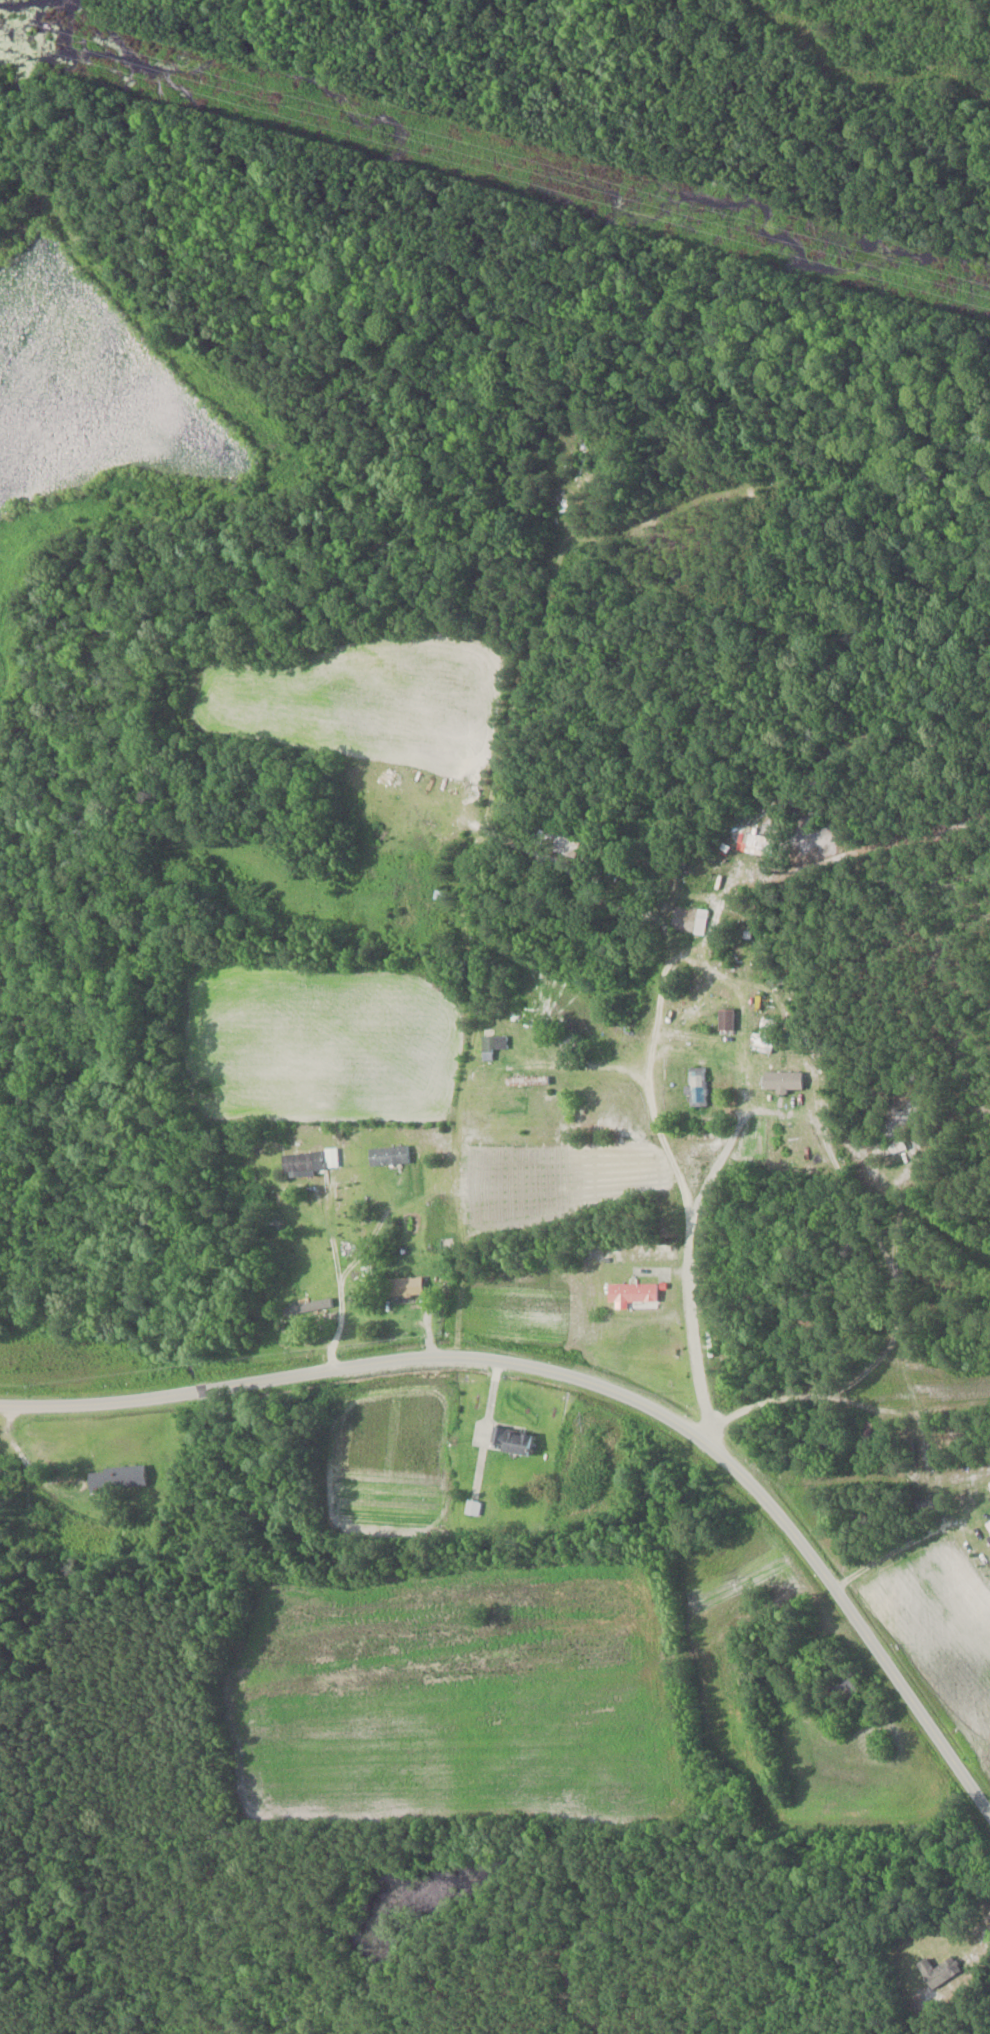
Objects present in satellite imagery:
power tower: (270, 97)
power tower: (695, 211)
building: (561, 844)
building: (439, 893)
building: (701, 921)
building: (726, 1019)
building: (760, 1039)
building: (494, 1045)
building: (528, 1080)
building: (783, 1081)
building: (697, 1086)
building: (890, 1150)
building: (390, 1155)
building: (311, 1161)
road: (724, 1260)
road: (339, 1275)
building: (407, 1286)
building: (633, 1293)
building: (309, 1307)
road: (978, 1307)
road: (591, 1382)
road: (799, 1386)
building: (513, 1439)
building: (6, 1471)
building: (117, 1476)
building: (474, 1507)
building: (989, 1523)
building: (843, 1685)
building: (940, 1970)

